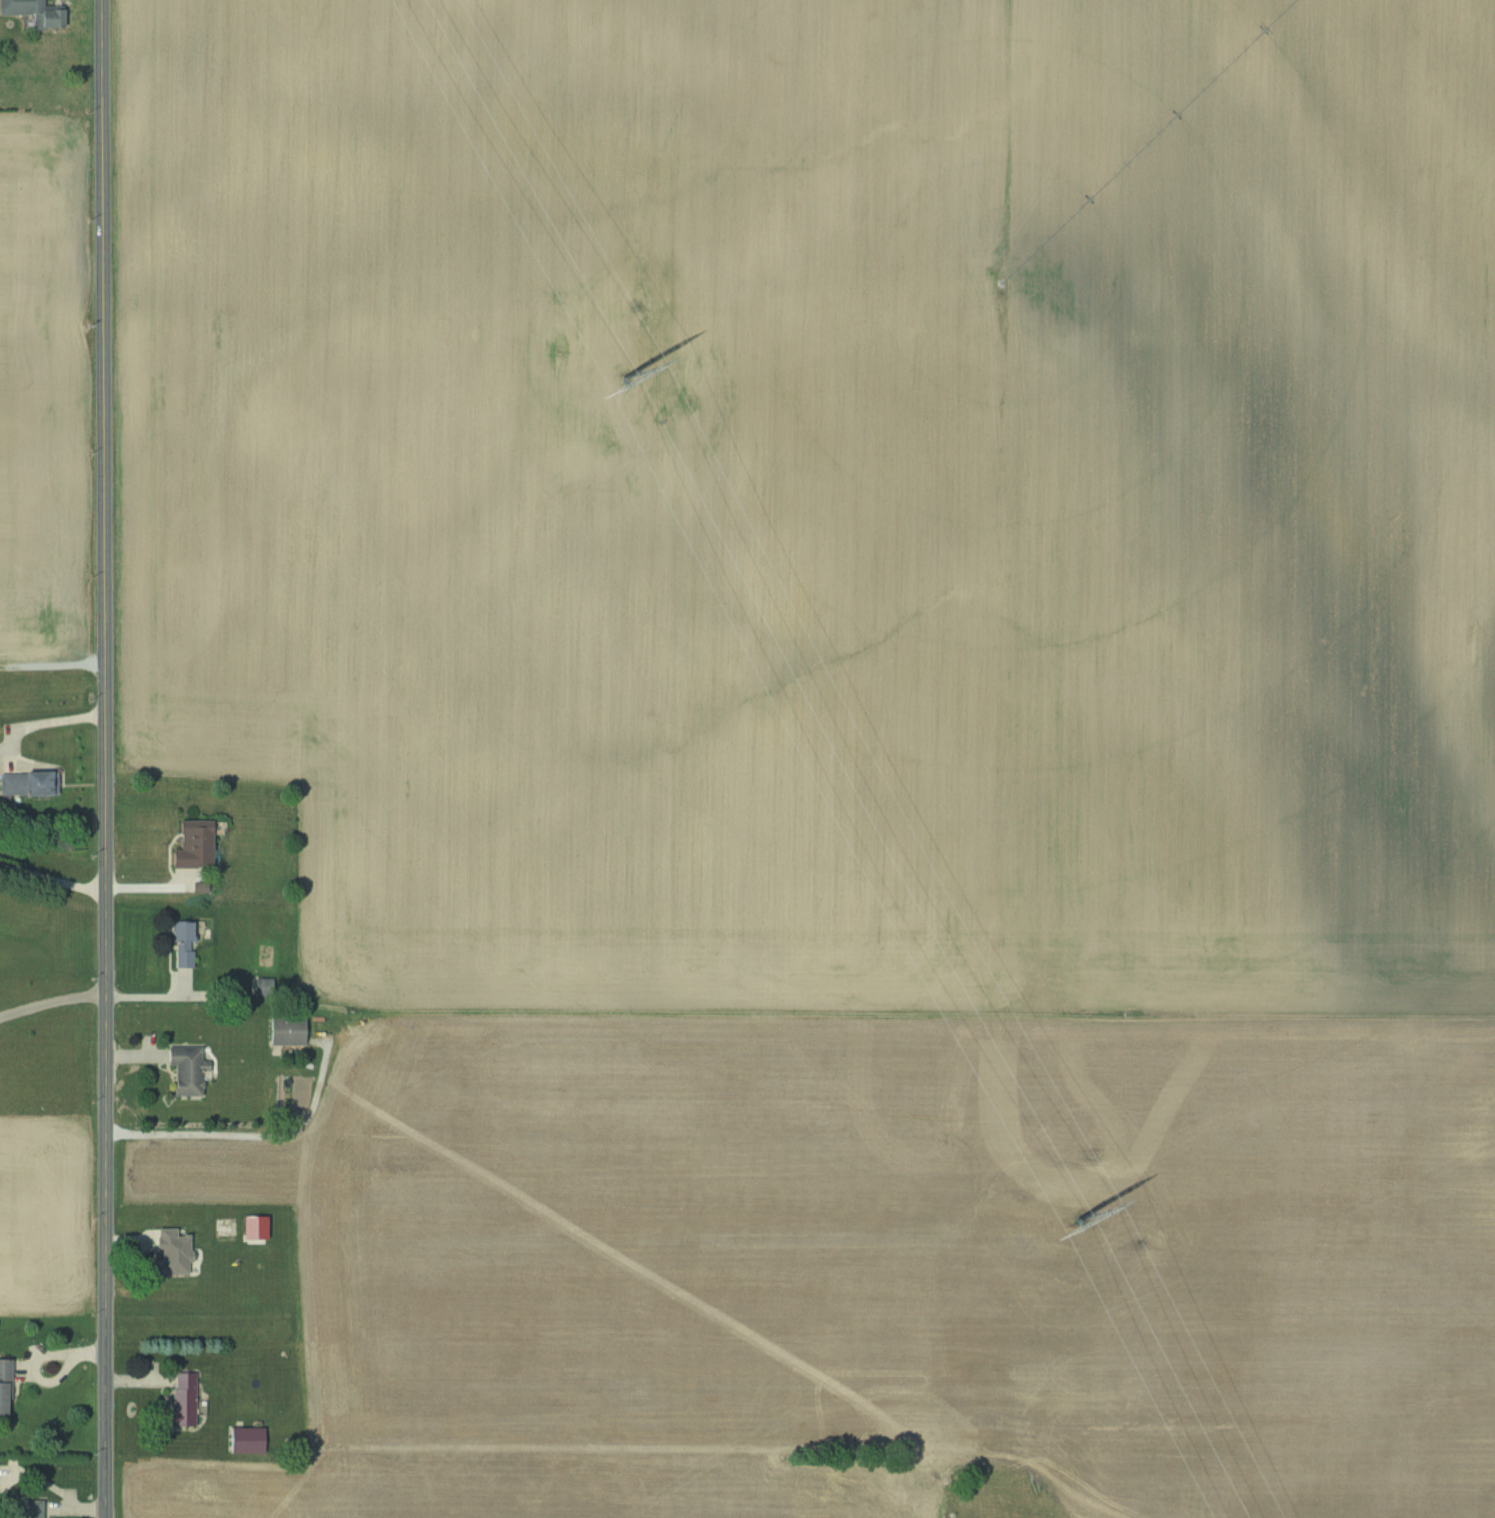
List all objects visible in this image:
building: (32, 12)
power tower: (617, 375)
road: (42, 722)
road: (105, 759)
building: (23, 783)
building: (188, 845)
road: (52, 878)
building: (179, 944)
road: (53, 1000)
building: (285, 1030)
building: (182, 1070)
power tower: (1075, 1218)
building: (168, 1252)
building: (3, 1385)
building: (179, 1398)
building: (242, 1439)
building: (24, 1509)

